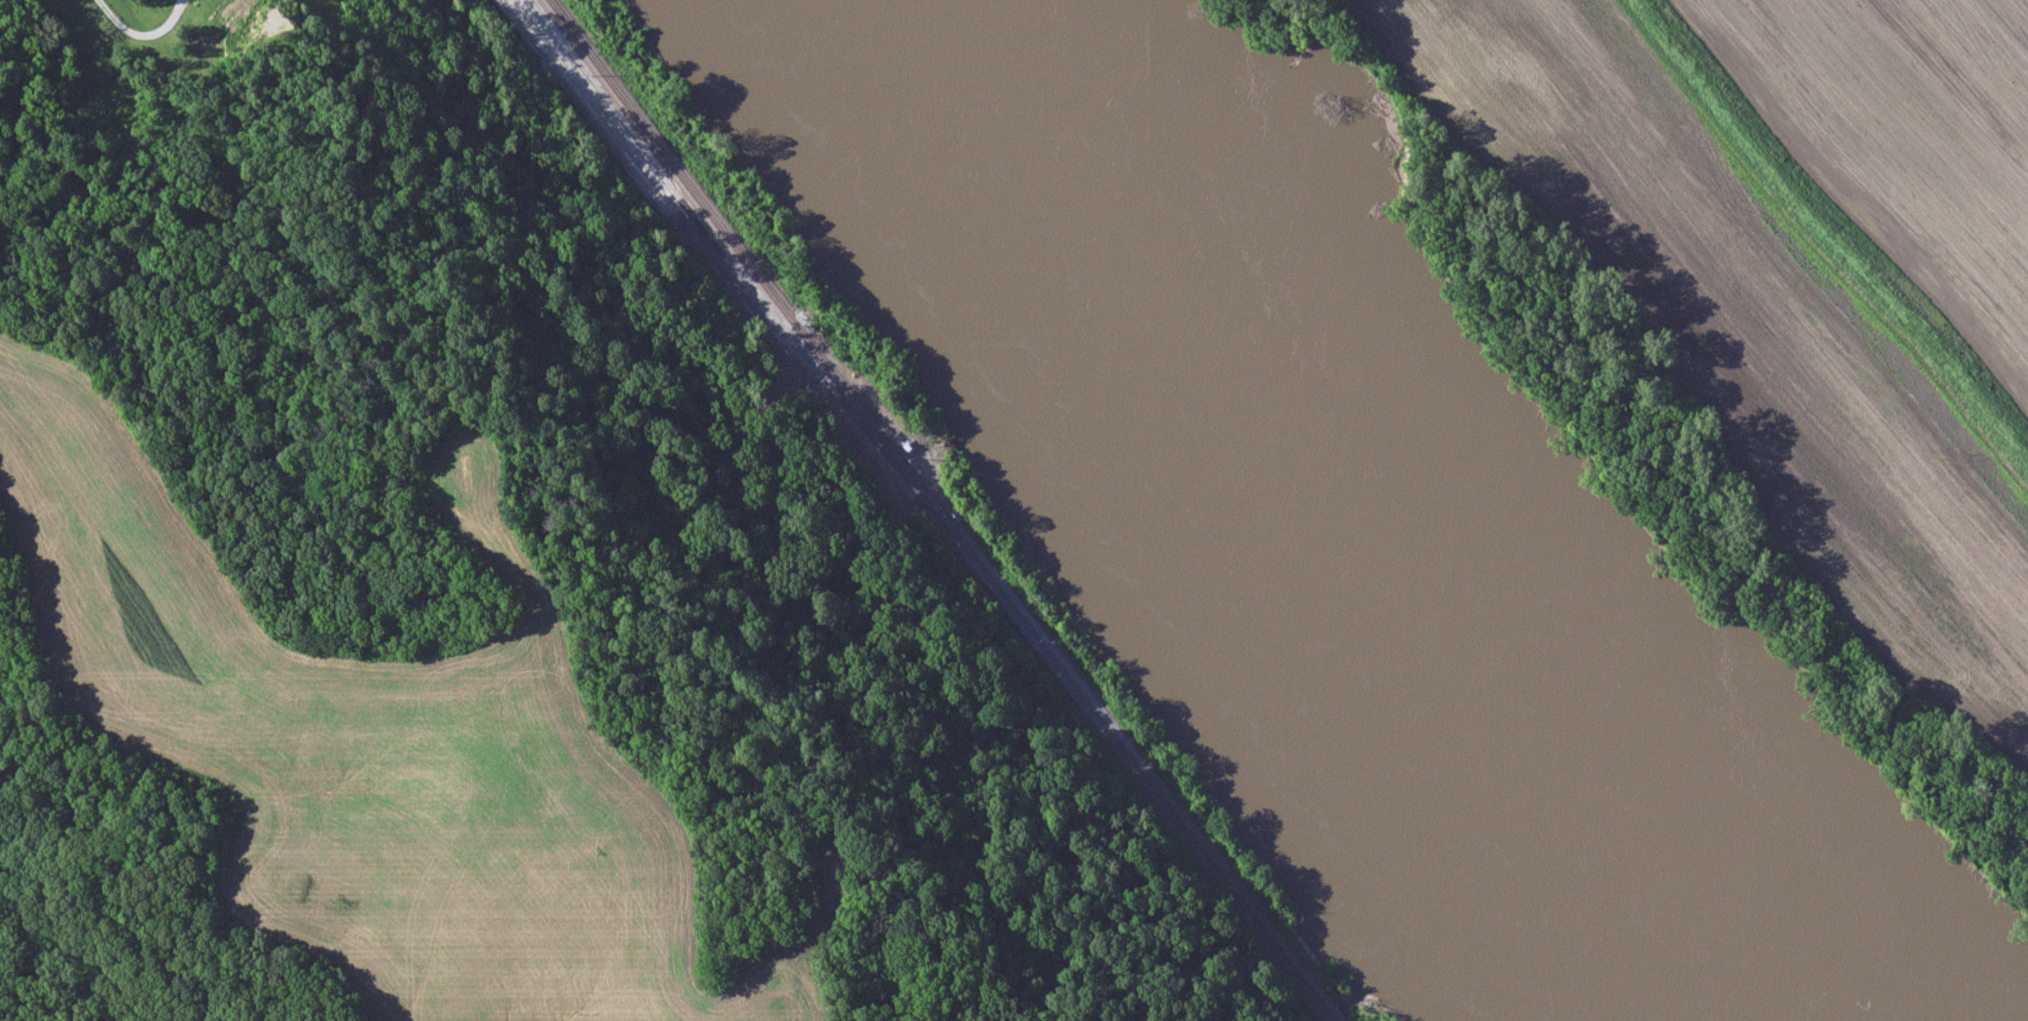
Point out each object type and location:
river: (947, 32)
railway: (605, 136)
railway: (641, 168)
railway: (689, 213)
railway: (939, 512)
river: (1344, 547)

